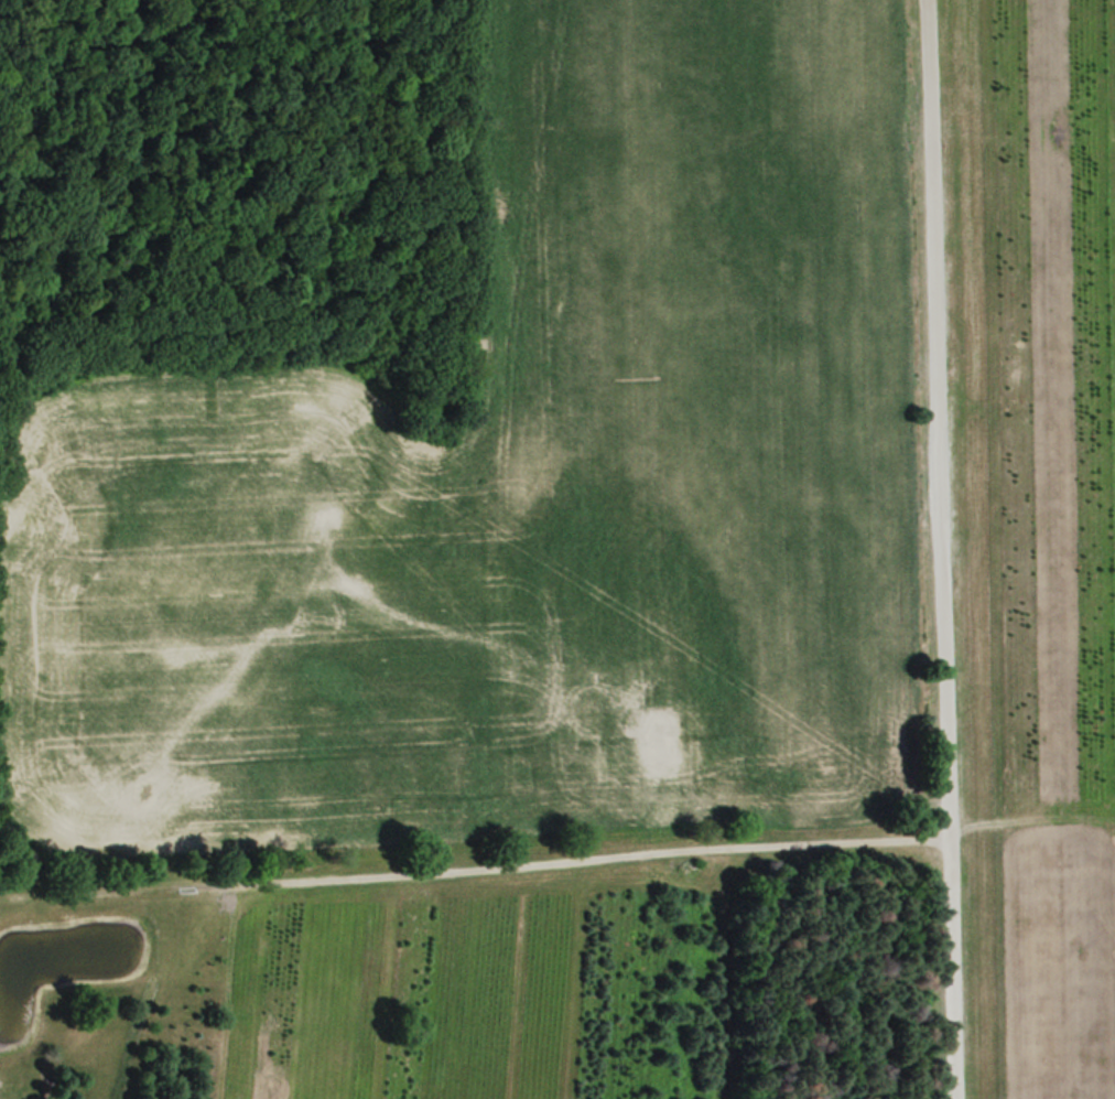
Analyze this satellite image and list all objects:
road: (938, 549)

